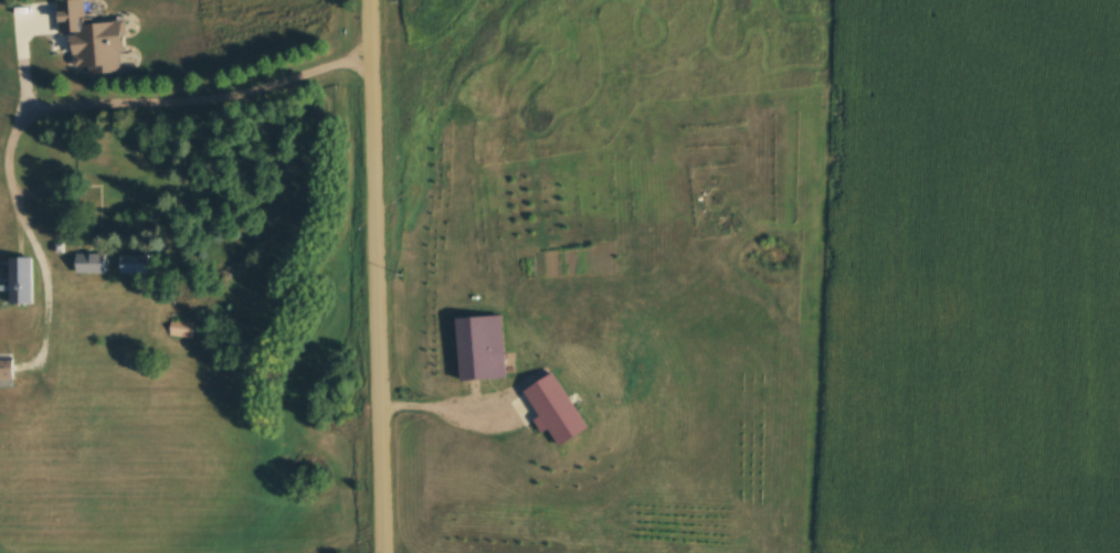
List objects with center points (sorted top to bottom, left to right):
crop: (432, 19)
building: (22, 52)
road: (131, 91)
building: (129, 187)
building: (93, 263)
road: (377, 276)
crop: (972, 279)
building: (22, 280)
building: (183, 329)
building: (485, 352)
building: (8, 369)
road: (450, 404)
building: (559, 411)

